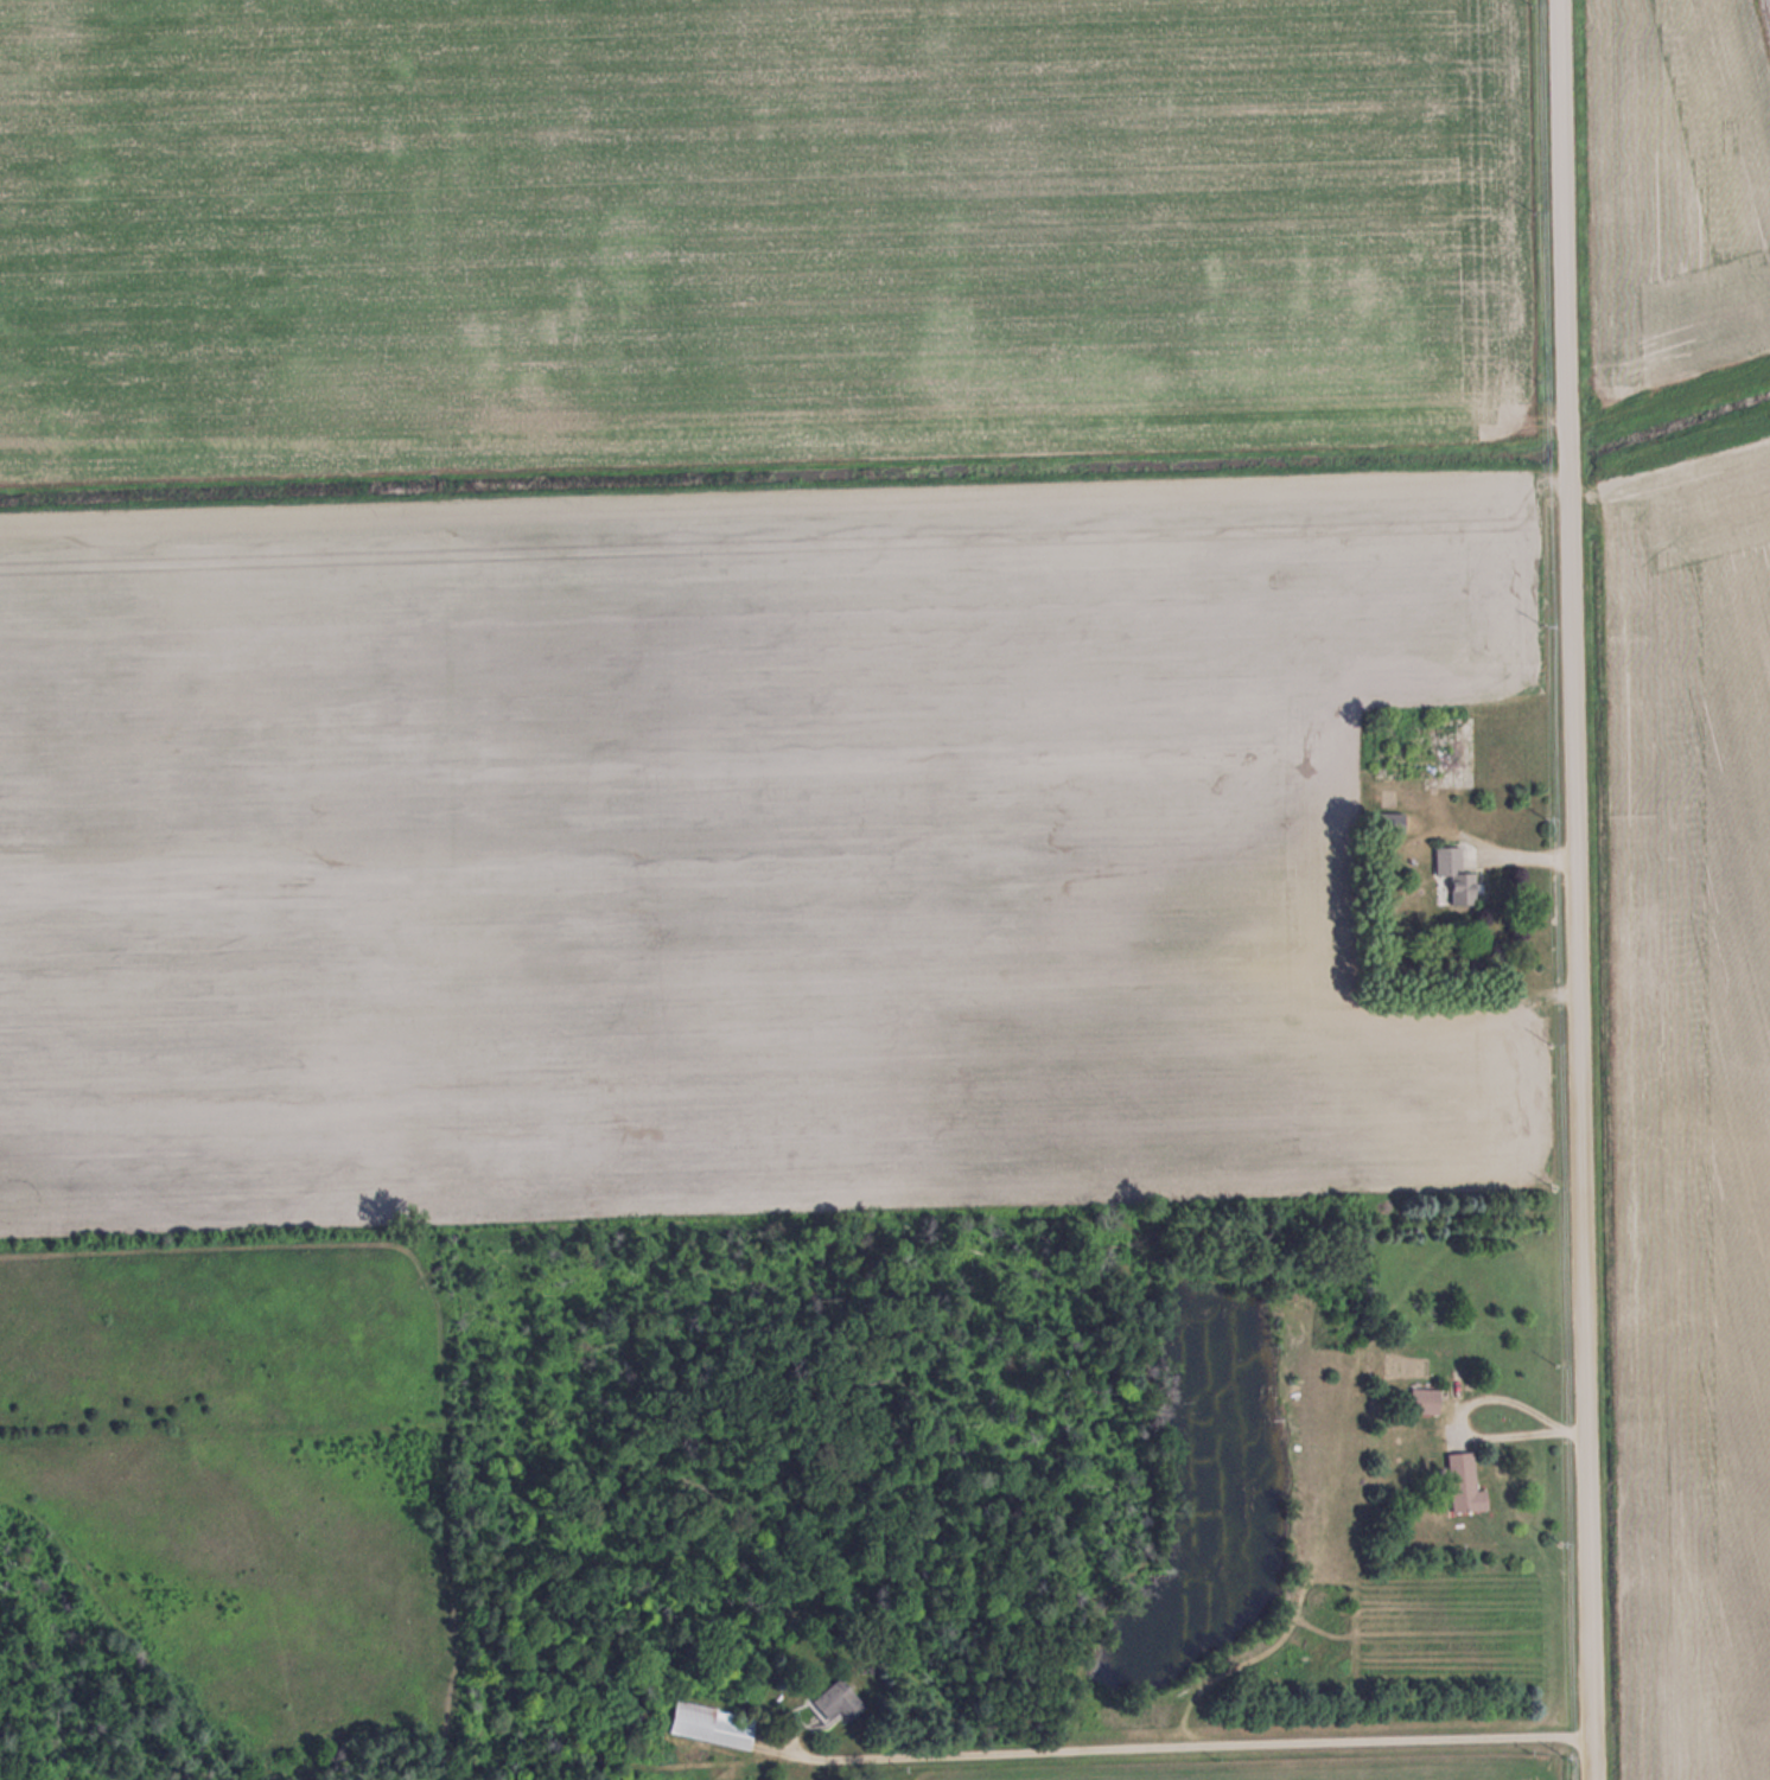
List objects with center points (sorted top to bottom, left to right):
building: (1393, 822)
building: (1456, 874)
road: (1572, 889)
building: (1424, 1398)
building: (1464, 1481)
building: (836, 1701)
building: (712, 1724)

